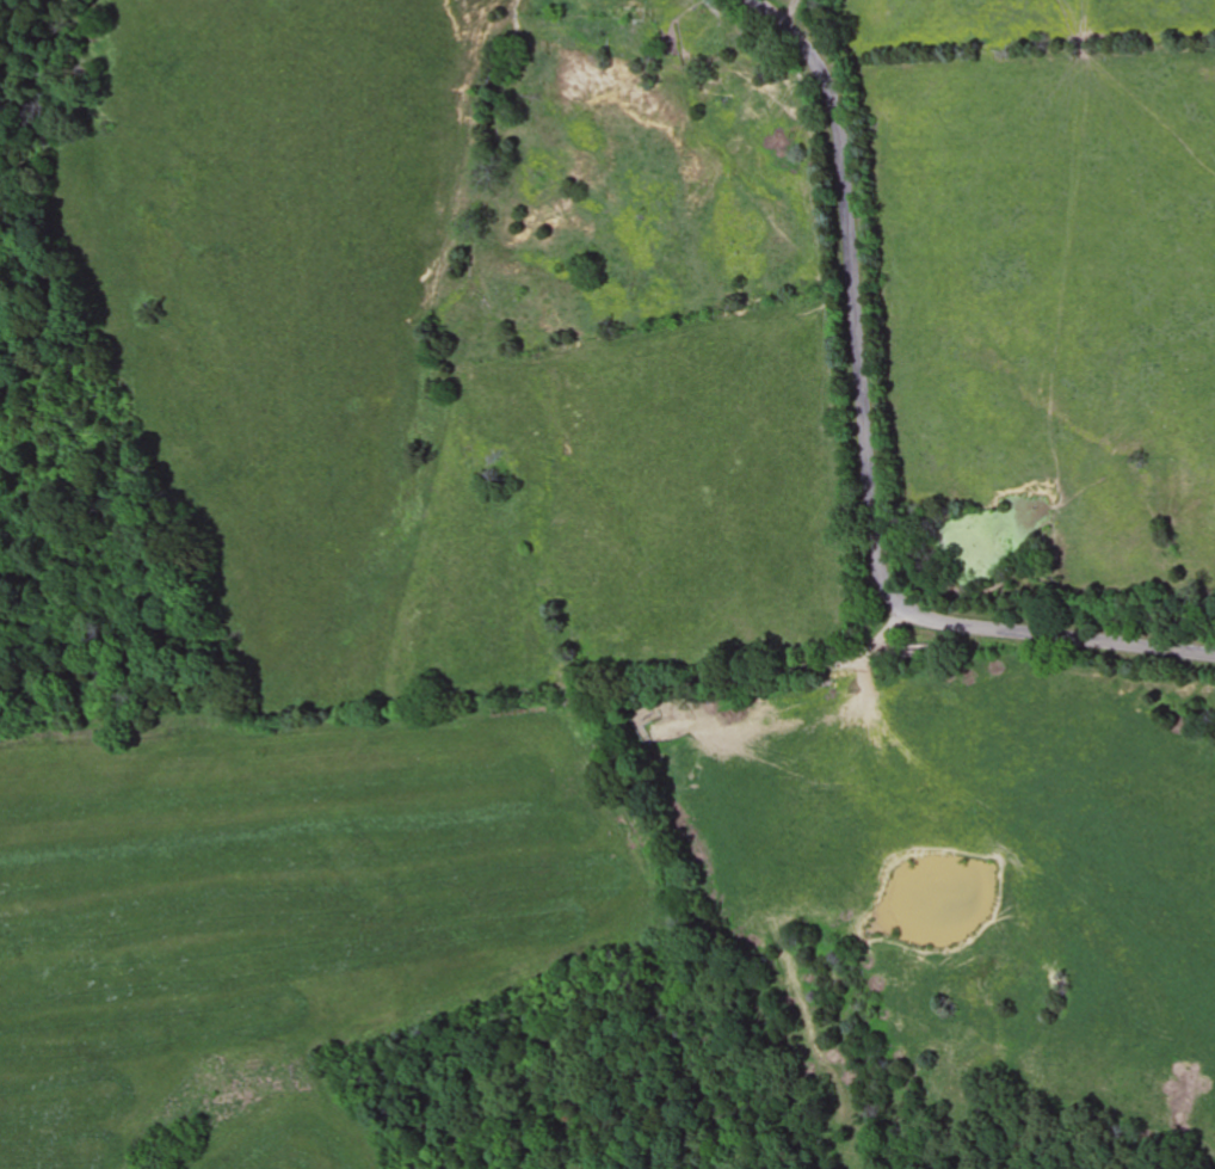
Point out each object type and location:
building: (630, 11)
road: (863, 450)
road: (650, 904)

